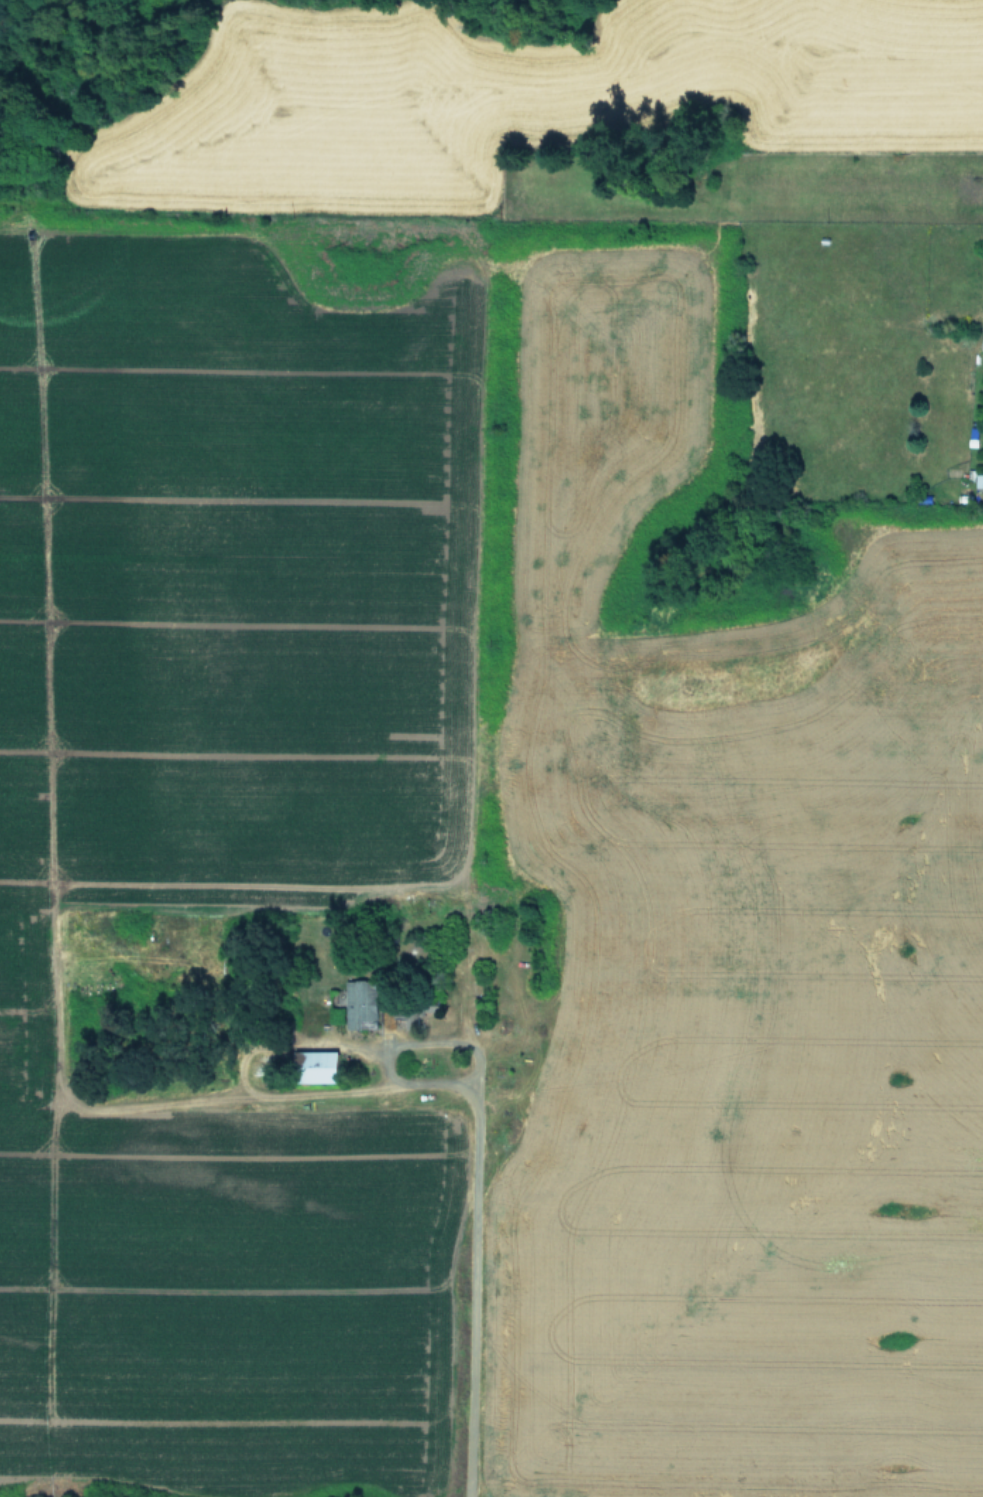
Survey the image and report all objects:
building: (981, 343)
crop: (498, 762)
building: (357, 1003)
building: (313, 1066)
road: (472, 1239)

